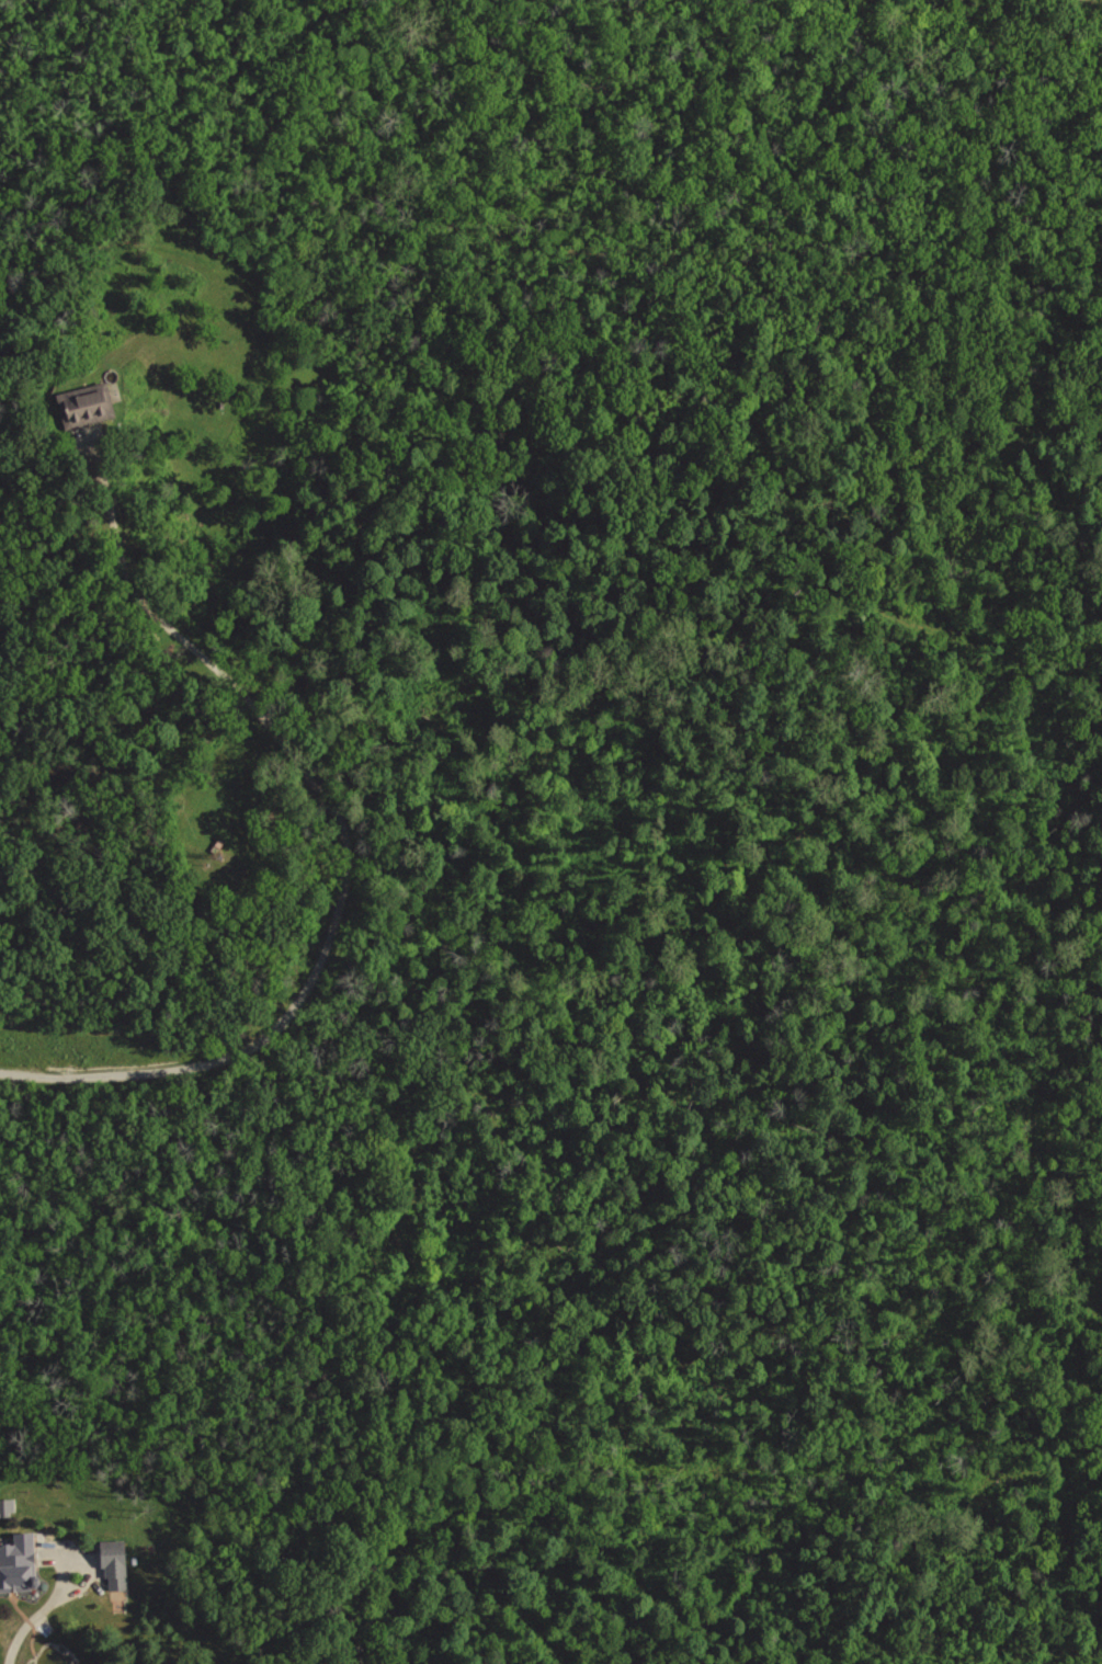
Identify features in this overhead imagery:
building: (82, 402)
road: (342, 844)
building: (8, 1508)
building: (117, 1565)
building: (20, 1570)
road: (38, 1615)

